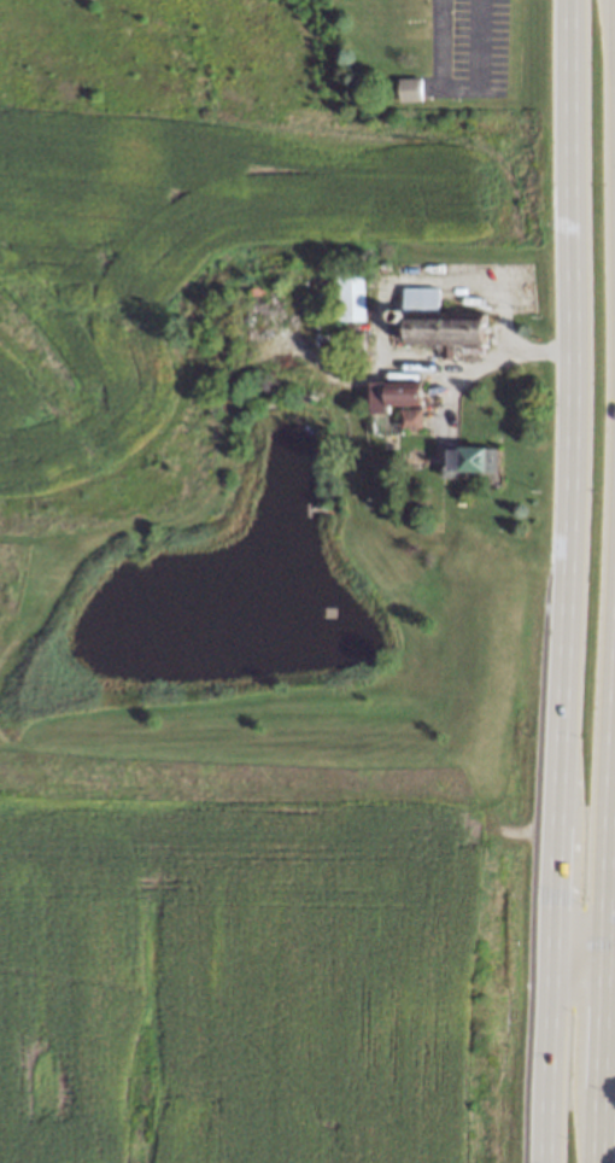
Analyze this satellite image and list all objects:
road: (458, 87)
building: (414, 93)
building: (355, 294)
building: (440, 322)
road: (505, 351)
building: (402, 396)
building: (394, 426)
building: (468, 463)
road: (568, 581)
road: (598, 941)
road: (580, 949)

